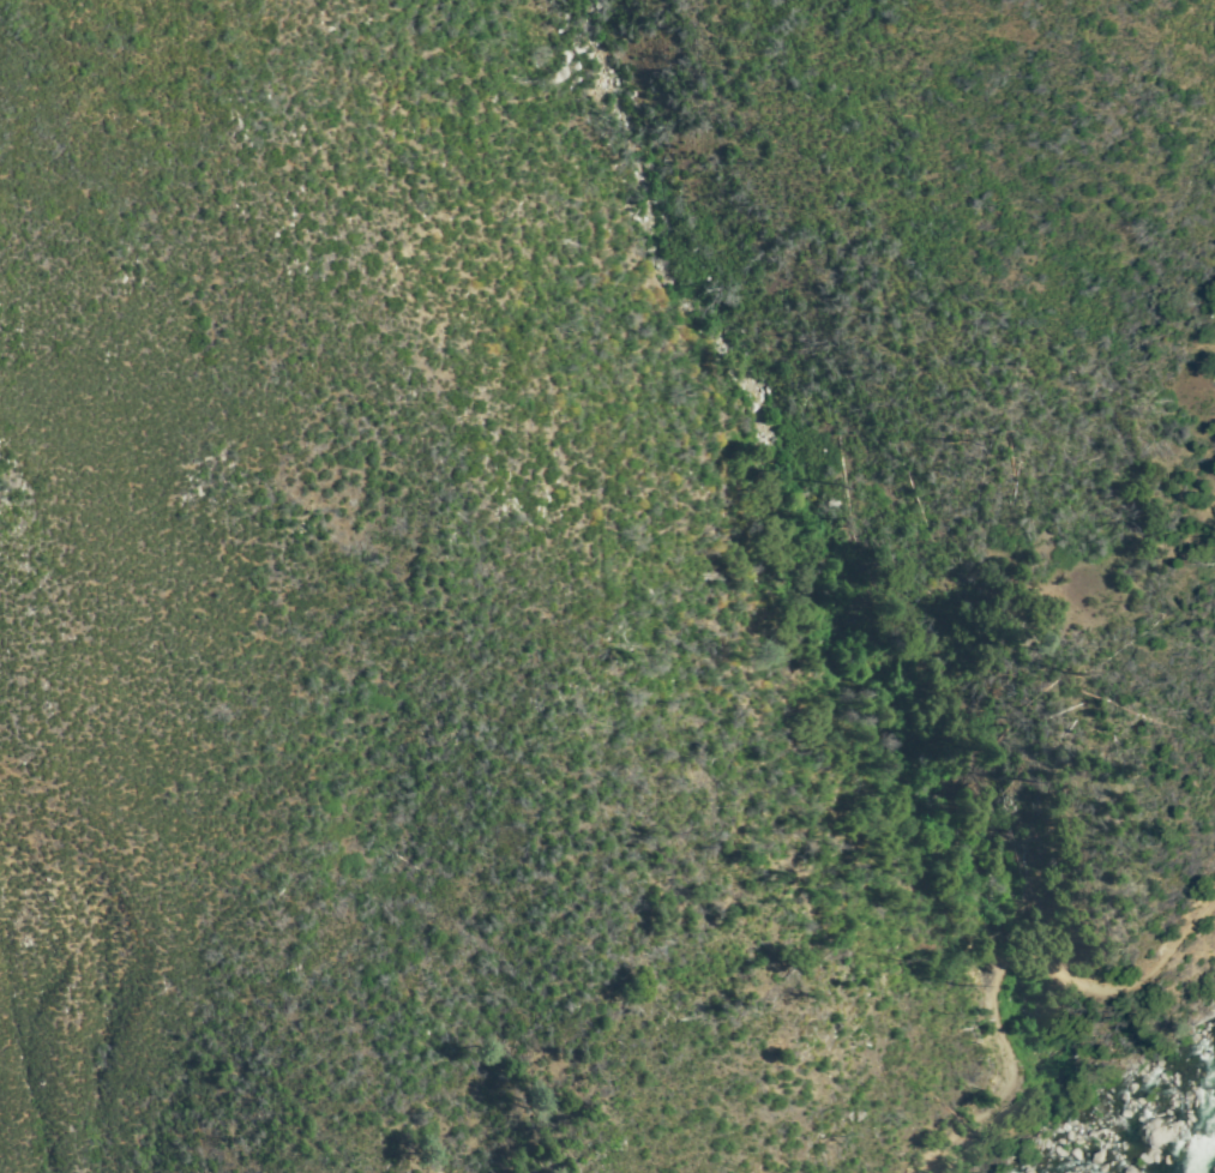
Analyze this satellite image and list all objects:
road: (1027, 1001)
river: (1189, 1141)

